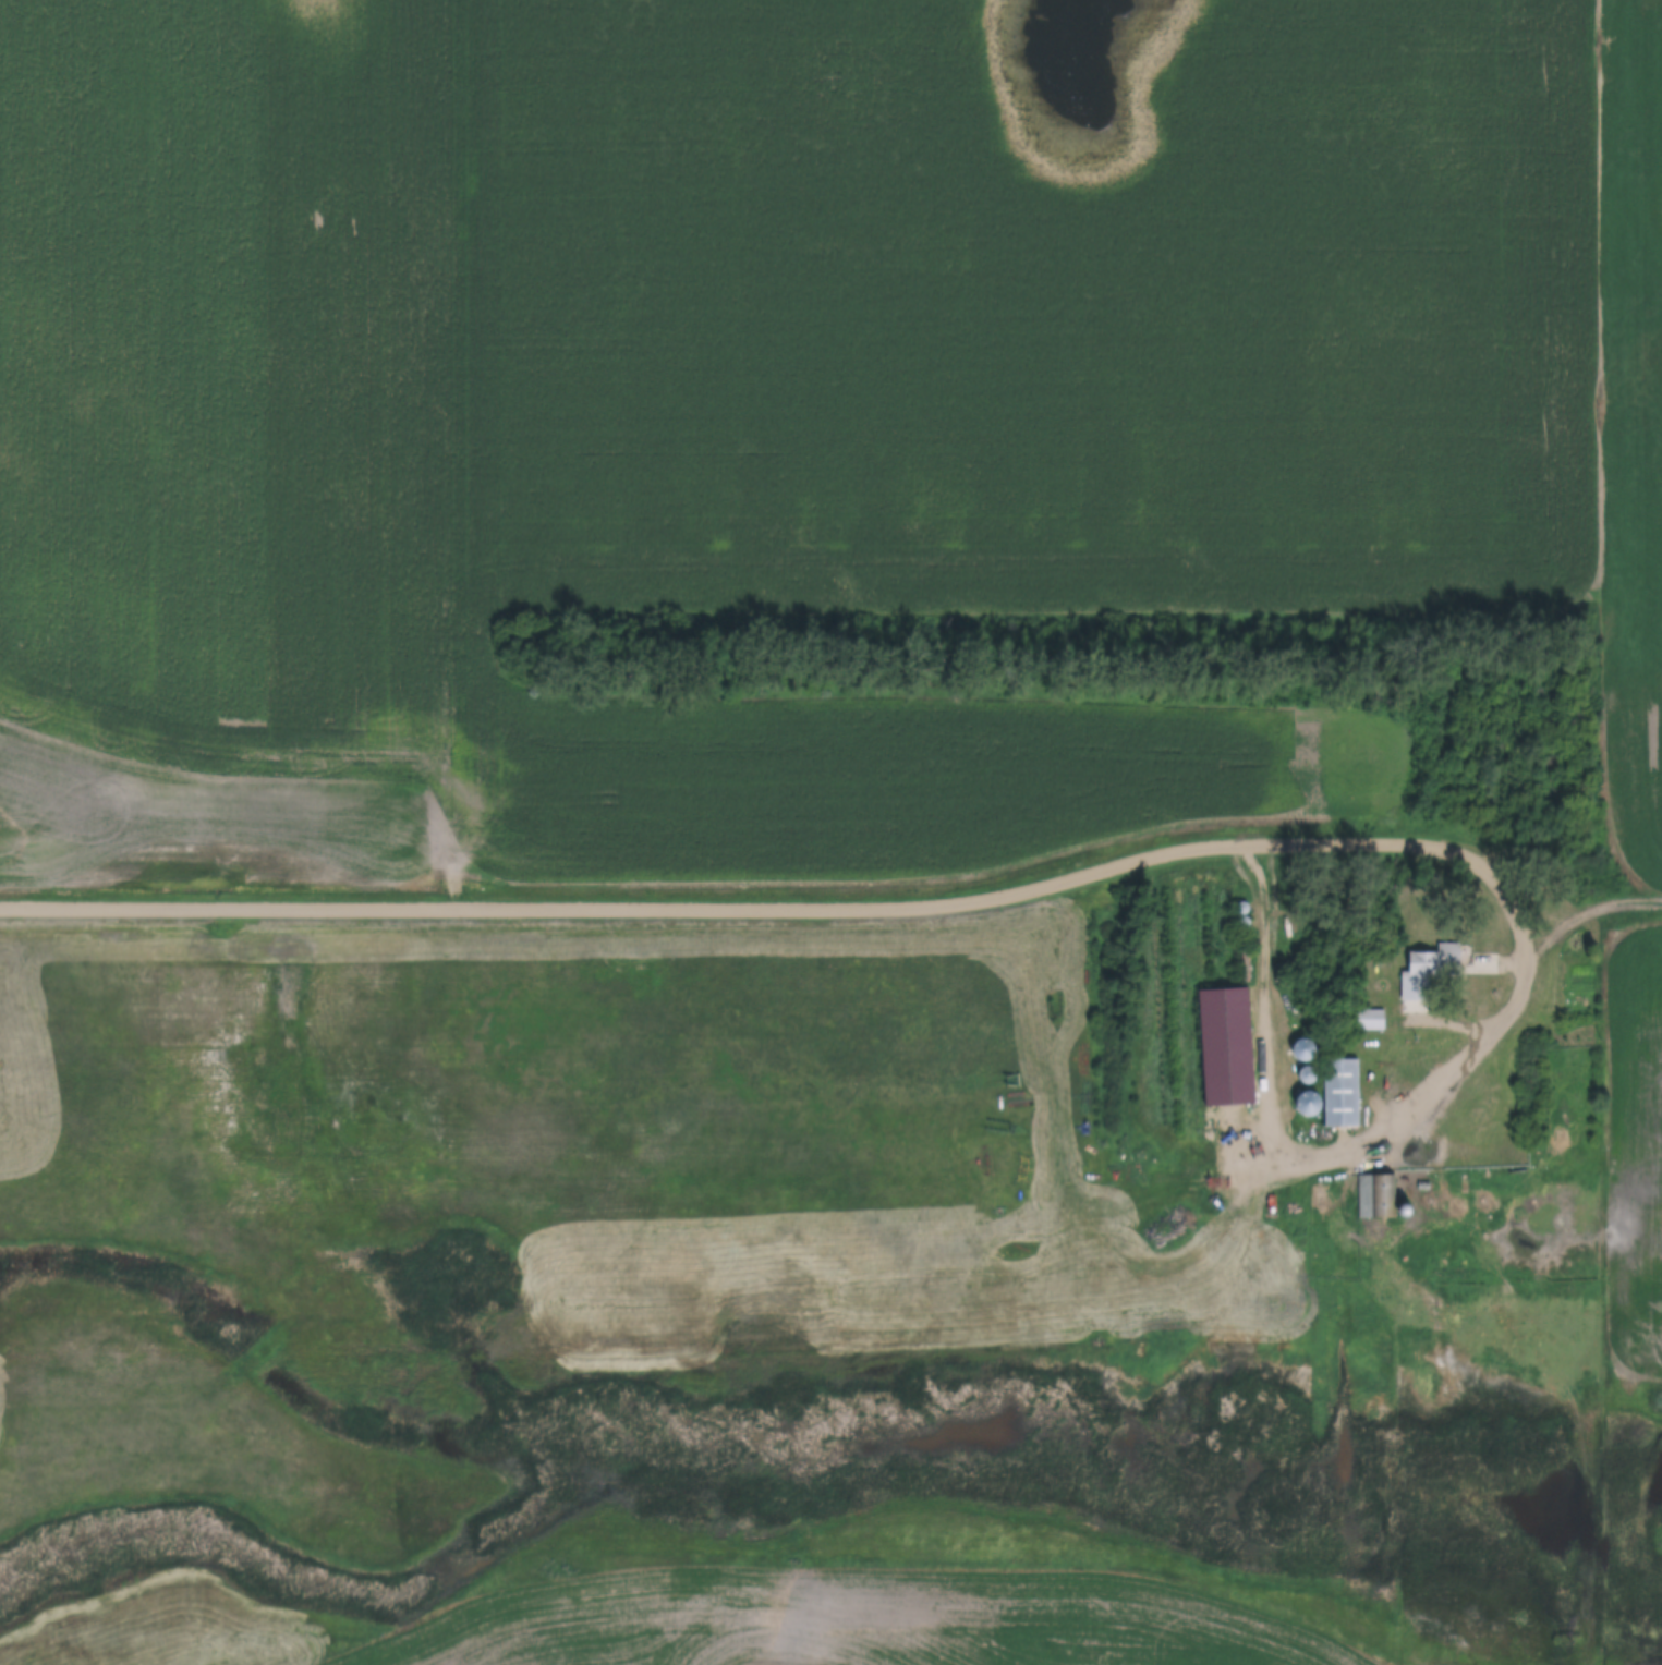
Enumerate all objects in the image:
road: (624, 910)
road: (1590, 912)
building: (1424, 973)
building: (1368, 1021)
road: (1432, 1026)
road: (1439, 1077)
building: (1343, 1093)
building: (1375, 1198)
road: (1589, 1288)

